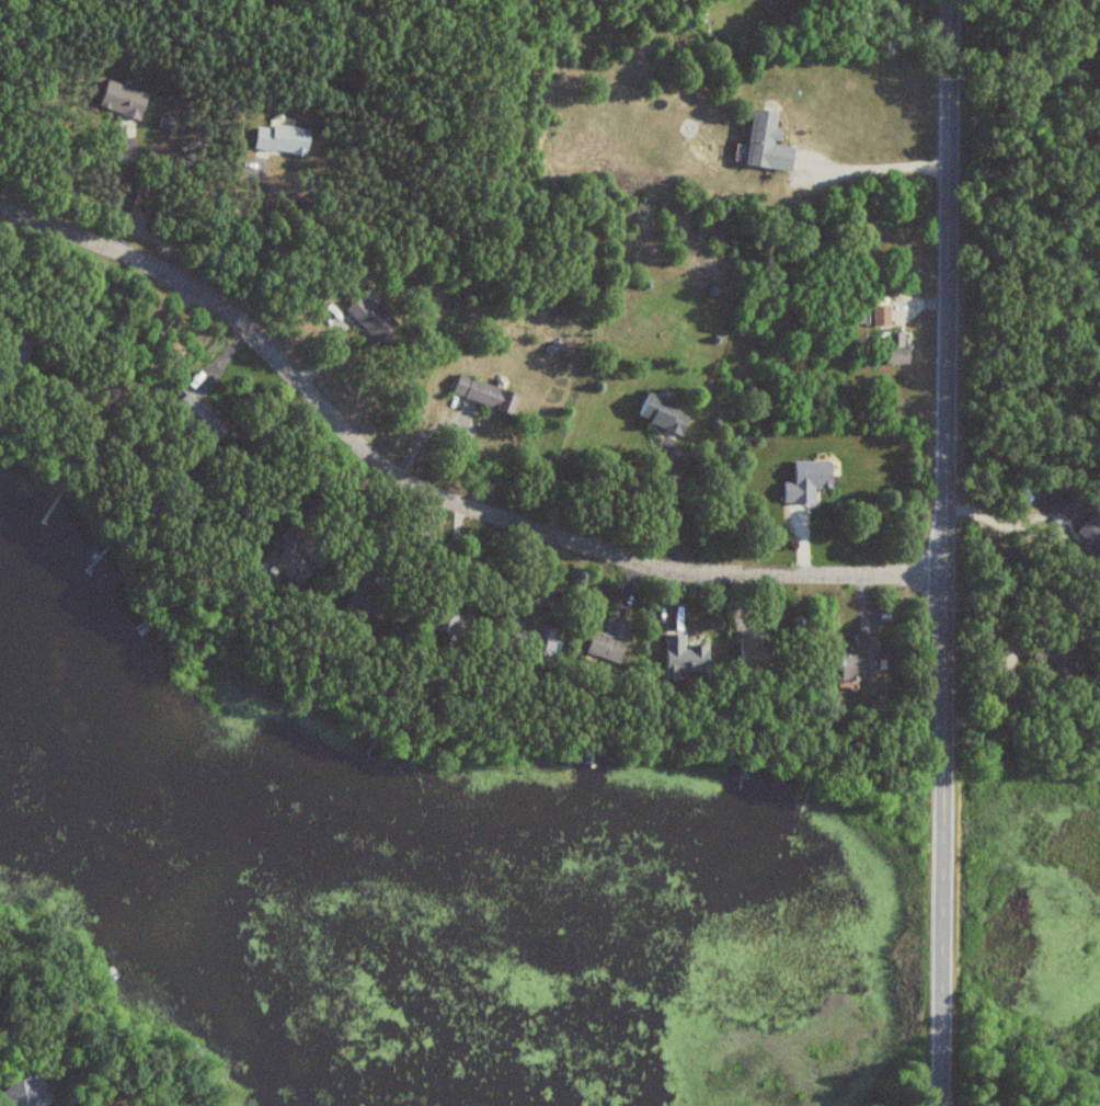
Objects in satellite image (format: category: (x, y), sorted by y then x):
building: (122, 100)
building: (280, 139)
building: (766, 142)
road: (884, 168)
road: (130, 190)
road: (253, 247)
building: (370, 315)
building: (880, 316)
building: (20, 346)
building: (893, 347)
building: (485, 394)
building: (662, 413)
building: (198, 419)
building: (806, 481)
road: (429, 491)
road: (677, 509)
road: (997, 520)
building: (1090, 533)
road: (943, 552)
building: (291, 556)
building: (367, 592)
building: (447, 623)
building: (531, 640)
building: (607, 642)
building: (684, 654)
building: (1054, 655)
building: (757, 657)
building: (859, 660)
road: (1006, 717)
building: (23, 1093)

